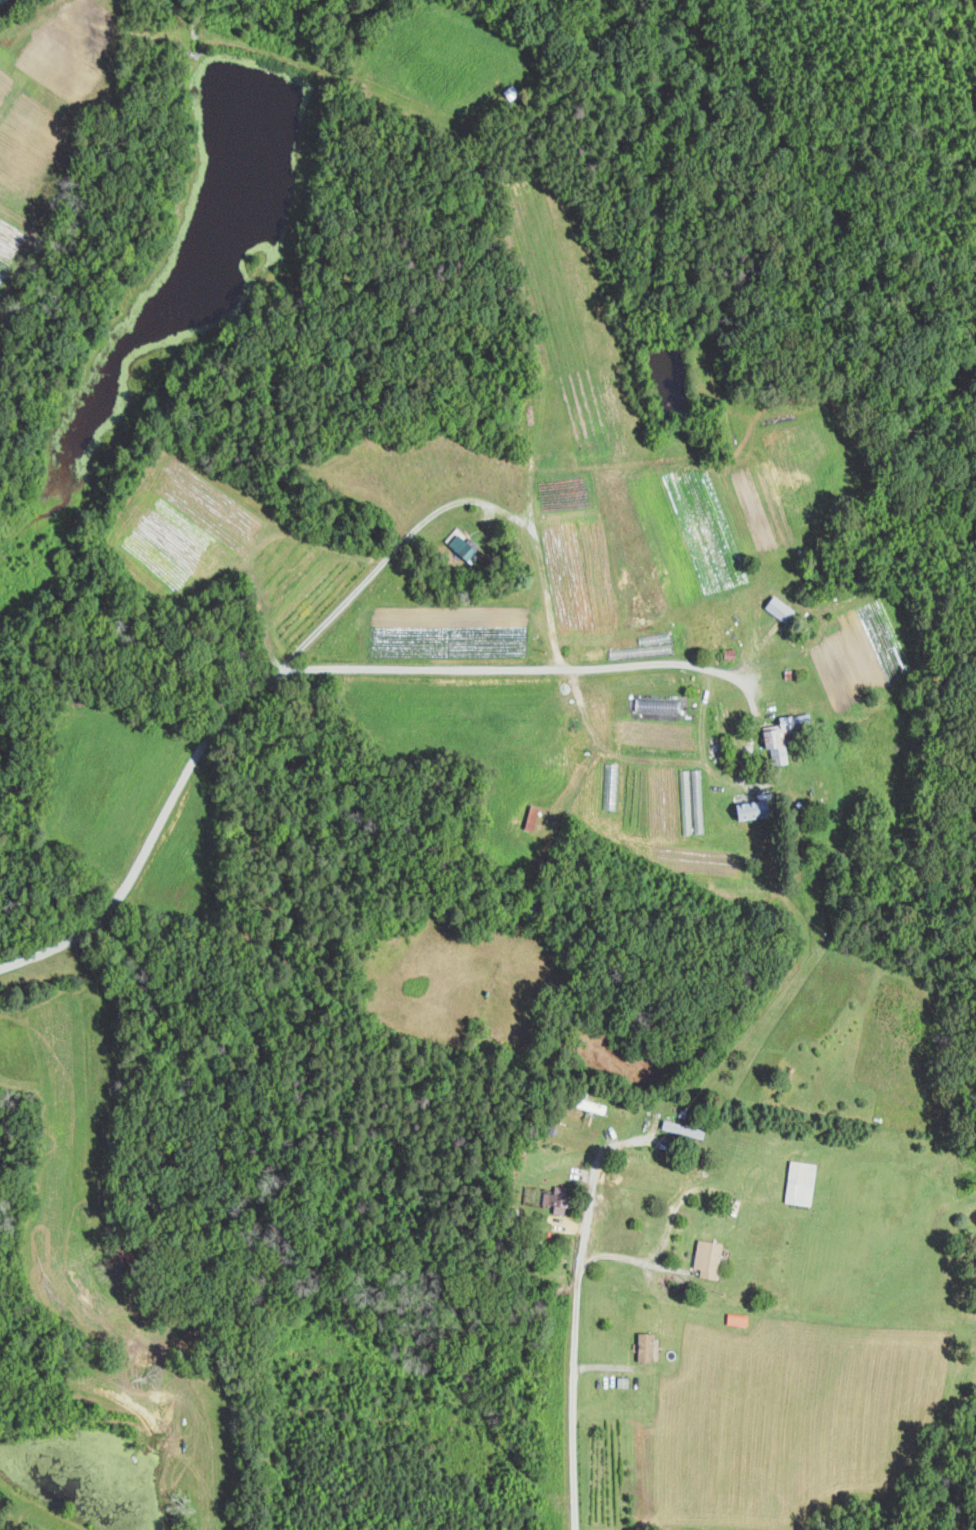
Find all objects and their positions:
road: (1, 0)
building: (465, 547)
road: (376, 567)
building: (783, 608)
road: (353, 668)
building: (779, 746)
building: (759, 806)
building: (595, 1105)
building: (803, 1182)
building: (562, 1208)
building: (711, 1257)
road: (575, 1317)
building: (648, 1346)
building: (624, 1381)

